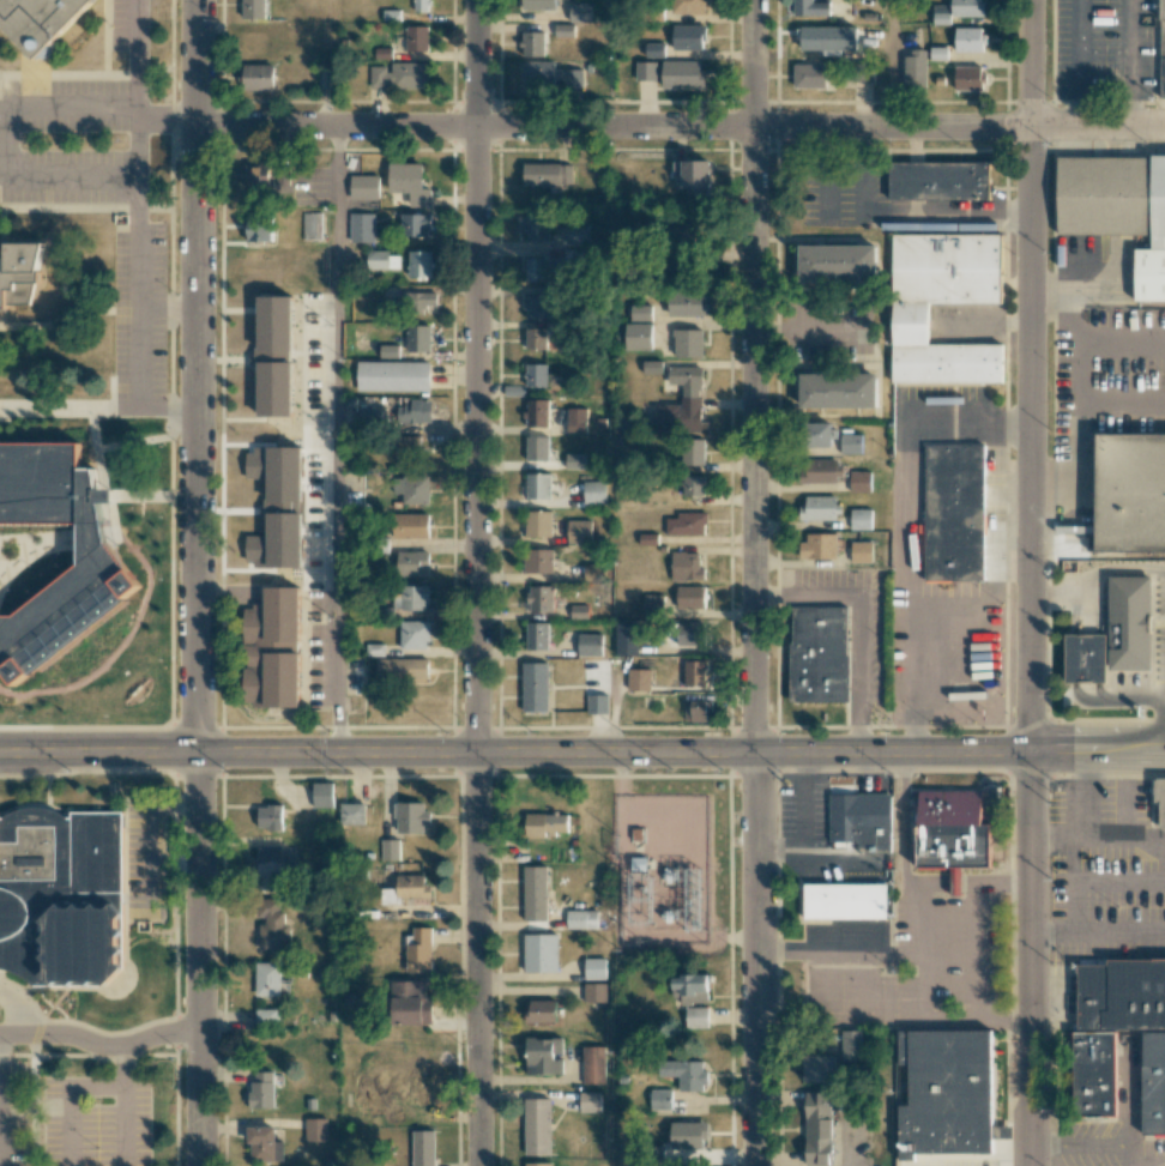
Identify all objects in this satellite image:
building: (421, 5)
building: (537, 5)
building: (688, 6)
building: (810, 7)
building: (254, 8)
building: (966, 8)
building: (579, 12)
building: (941, 14)
building: (41, 20)
parking lot: (127, 26)
road: (140, 31)
building: (688, 37)
building: (416, 38)
building: (968, 40)
building: (250, 42)
building: (532, 43)
road: (1078, 48)
road: (1129, 49)
building: (653, 50)
building: (1161, 50)
road: (894, 65)
building: (915, 70)
building: (646, 71)
building: (862, 73)
building: (399, 74)
building: (538, 74)
building: (682, 74)
building: (809, 75)
building: (258, 77)
building: (968, 78)
building: (562, 79)
road: (73, 109)
road: (1076, 113)
road: (1130, 114)
road: (168, 127)
road: (681, 128)
parking lot: (8, 143)
road: (139, 144)
road: (7, 145)
building: (547, 174)
building: (261, 175)
building: (694, 175)
road: (825, 176)
road: (865, 177)
road: (73, 180)
building: (938, 180)
building: (409, 183)
building: (363, 187)
parking lot: (844, 188)
building: (1117, 212)
building: (414, 224)
building: (310, 225)
building: (259, 226)
building: (535, 226)
building: (361, 228)
building: (578, 235)
building: (574, 258)
building: (381, 260)
building: (418, 264)
building: (840, 264)
building: (543, 270)
building: (19, 276)
building: (415, 301)
building: (688, 303)
building: (537, 307)
road: (167, 309)
building: (640, 313)
road: (135, 316)
road: (2, 318)
parking lot: (138, 319)
road: (58, 324)
building: (910, 325)
building: (638, 336)
building: (417, 338)
building: (536, 338)
building: (688, 343)
building: (387, 351)
building: (274, 355)
building: (536, 375)
building: (392, 376)
building: (840, 393)
building: (682, 403)
road: (165, 409)
building: (415, 411)
building: (373, 413)
building: (537, 413)
building: (577, 421)
building: (819, 434)
road: (97, 436)
road: (337, 442)
building: (408, 443)
building: (851, 443)
building: (537, 448)
building: (692, 452)
building: (304, 454)
building: (574, 461)
building: (817, 471)
building: (859, 482)
building: (693, 485)
building: (538, 487)
building: (265, 488)
building: (415, 489)
building: (593, 493)
building: (1133, 494)
building: (817, 508)
building: (955, 512)
building: (861, 519)
building: (538, 524)
building: (686, 524)
building: (260, 525)
building: (410, 526)
building: (579, 531)
building: (309, 532)
building: (647, 538)
building: (819, 545)
building: (861, 551)
building: (307, 555)
building: (538, 561)
building: (253, 563)
building: (411, 563)
building: (686, 566)
building: (99, 569)
building: (593, 572)
road: (1095, 576)
road: (197, 582)
road: (477, 582)
road: (755, 582)
road: (1028, 582)
building: (689, 597)
building: (410, 598)
building: (539, 599)
building: (652, 605)
road: (1086, 609)
building: (579, 611)
road: (858, 623)
building: (1131, 623)
building: (414, 634)
building: (689, 634)
building: (537, 636)
building: (626, 639)
building: (588, 645)
building: (273, 650)
building: (816, 656)
building: (1086, 657)
road: (1086, 657)
building: (694, 673)
building: (639, 679)
building: (535, 687)
road: (1116, 697)
building: (597, 703)
building: (694, 711)
road: (513, 756)
road: (1095, 756)
building: (322, 795)
road: (1089, 796)
road: (1124, 796)
building: (1160, 799)
road: (804, 804)
building: (352, 814)
building: (858, 816)
building: (268, 817)
building: (410, 817)
building: (545, 824)
building: (953, 829)
road: (1051, 838)
road: (1074, 838)
building: (388, 850)
road: (780, 851)
road: (840, 864)
building: (268, 868)
power substation: (664, 868)
road: (1119, 880)
road: (903, 881)
building: (411, 887)
building: (535, 893)
building: (62, 900)
building: (846, 902)
building: (582, 919)
building: (272, 925)
road: (1097, 934)
road: (924, 949)
building: (418, 950)
road: (979, 950)
road: (840, 951)
building: (541, 953)
building: (594, 968)
building: (267, 979)
building: (690, 989)
road: (822, 989)
road: (871, 989)
building: (594, 992)
building: (1122, 995)
building: (410, 1003)
building: (95, 1008)
road: (19, 1009)
building: (541, 1011)
building: (266, 1016)
building: (696, 1017)
road: (976, 1017)
road: (102, 1045)
building: (851, 1045)
building: (544, 1056)
building: (593, 1064)
building: (819, 1068)
building: (684, 1074)
building: (1095, 1075)
building: (409, 1079)
building: (1153, 1085)
building: (261, 1089)
building: (947, 1096)
road: (68, 1101)
building: (590, 1101)
road: (126, 1105)
building: (421, 1108)
parking lot: (11, 1114)
parking lot: (96, 1122)
building: (537, 1126)
building: (315, 1129)
building: (817, 1129)
building: (688, 1134)
road: (1075, 1143)
building: (264, 1144)
building: (422, 1148)
road: (1130, 1154)
building: (537, 1164)

